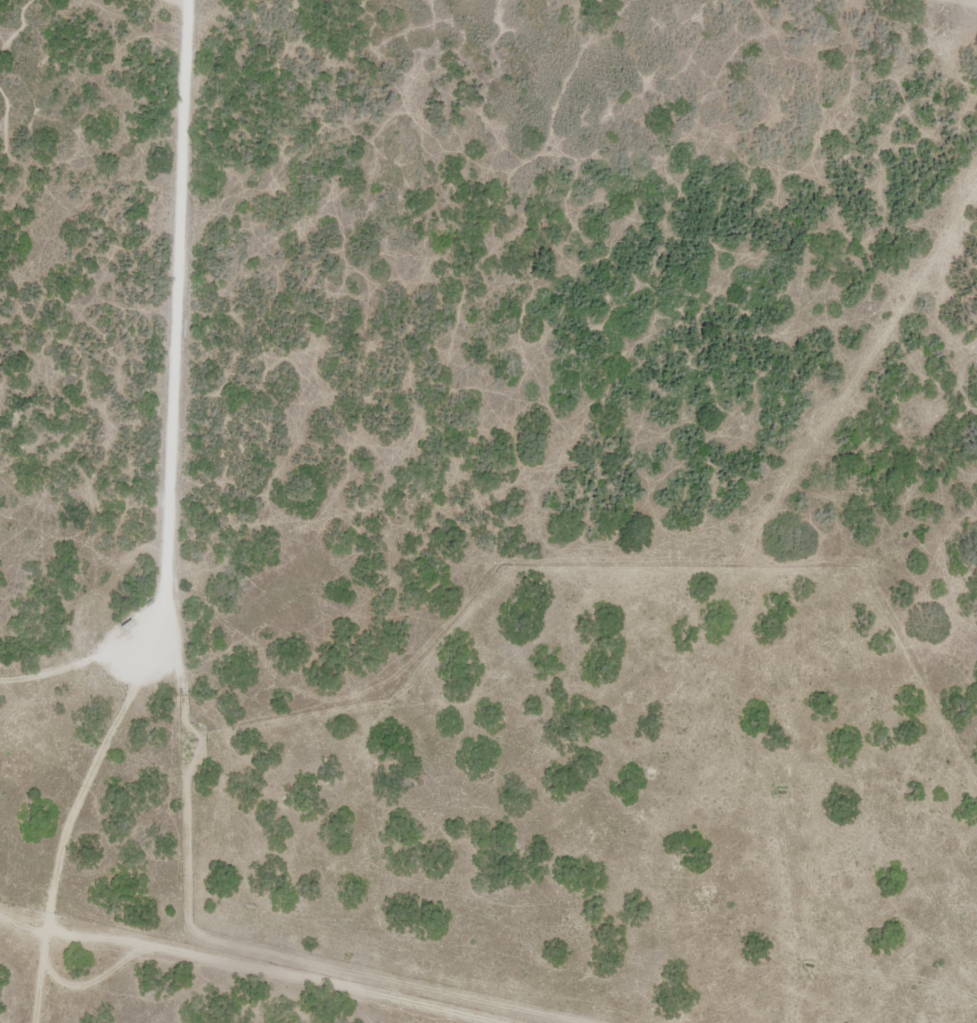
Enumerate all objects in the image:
road: (473, 323)
road: (642, 572)
road: (135, 639)

